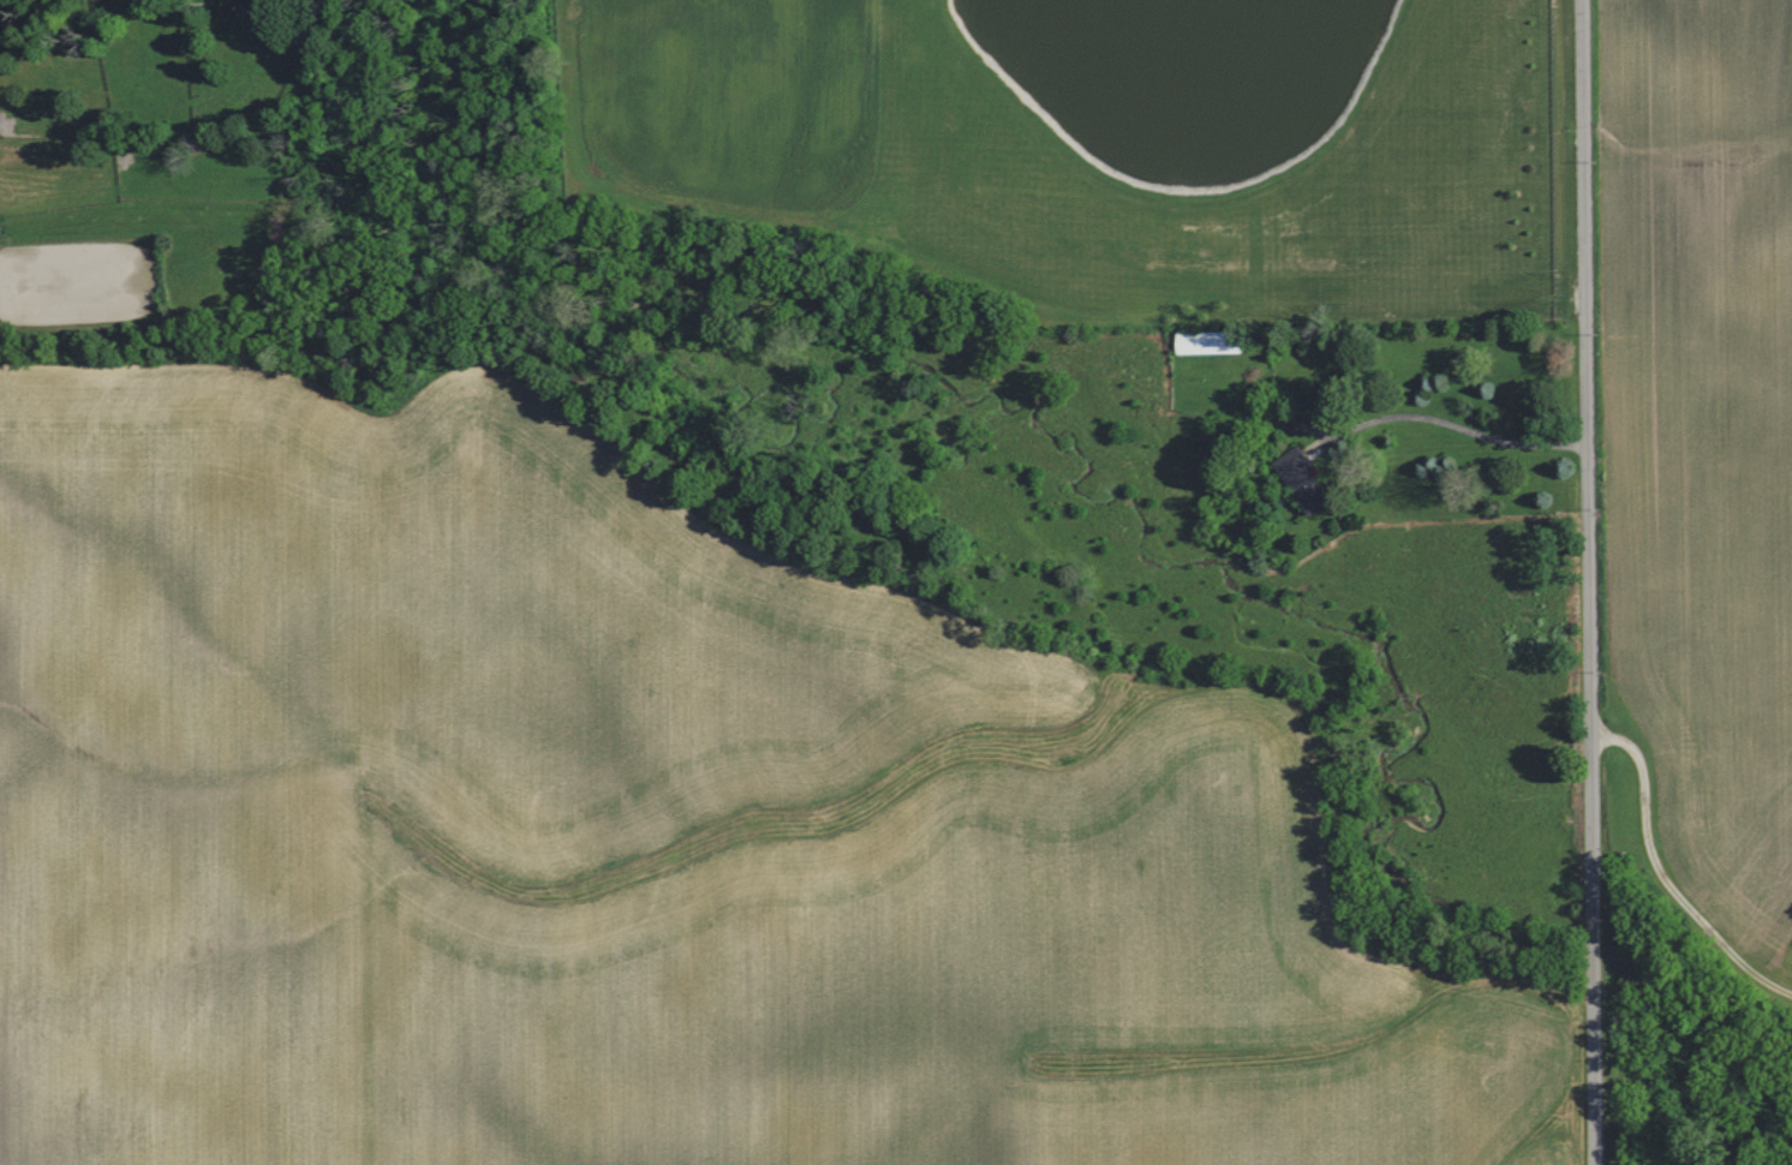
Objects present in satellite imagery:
building: (1214, 343)
road: (1458, 428)
building: (1308, 482)
road: (1596, 582)
road: (1668, 867)

